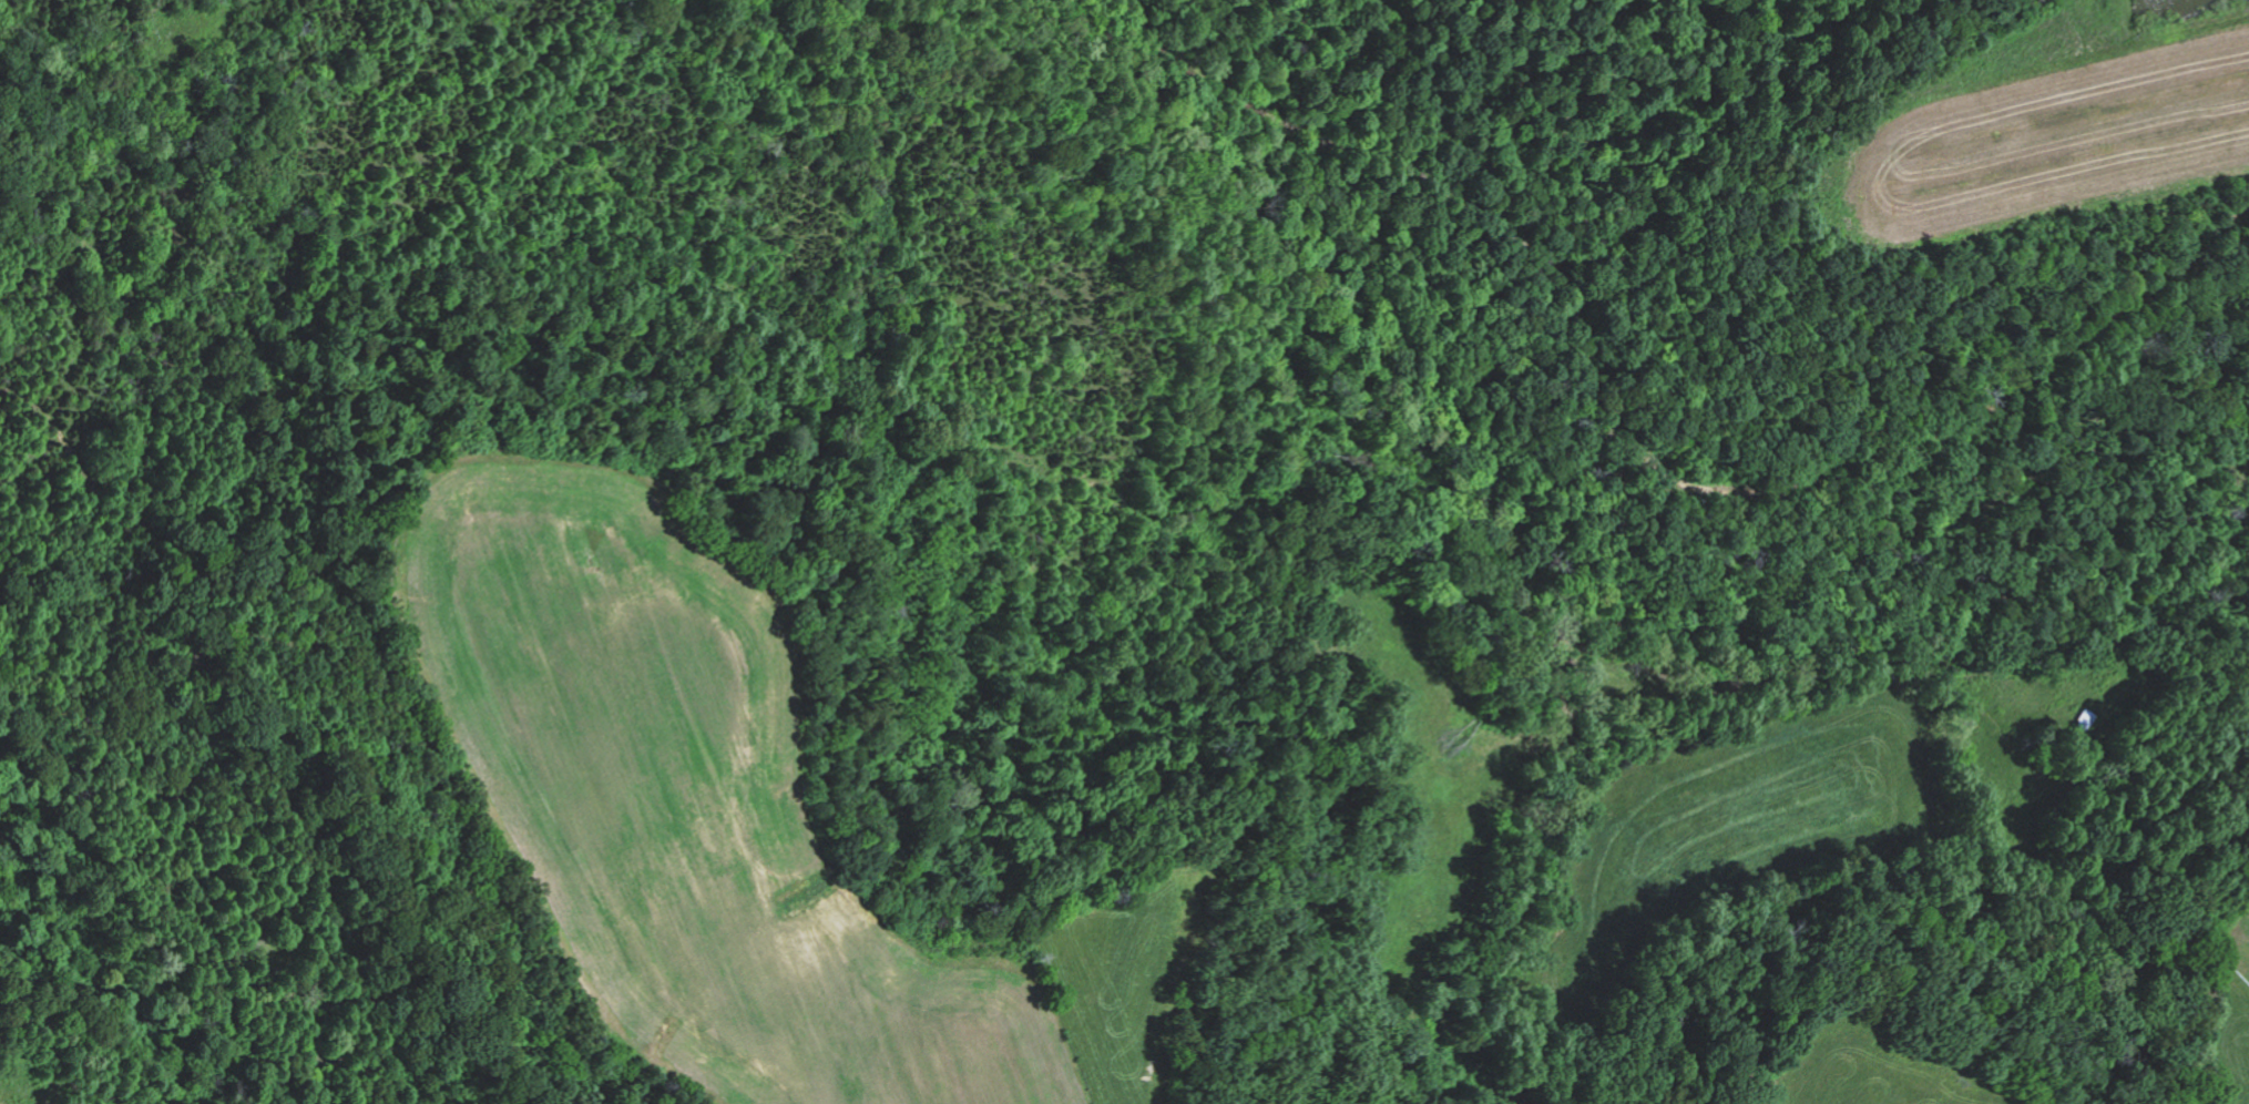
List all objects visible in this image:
road: (2163, 258)

